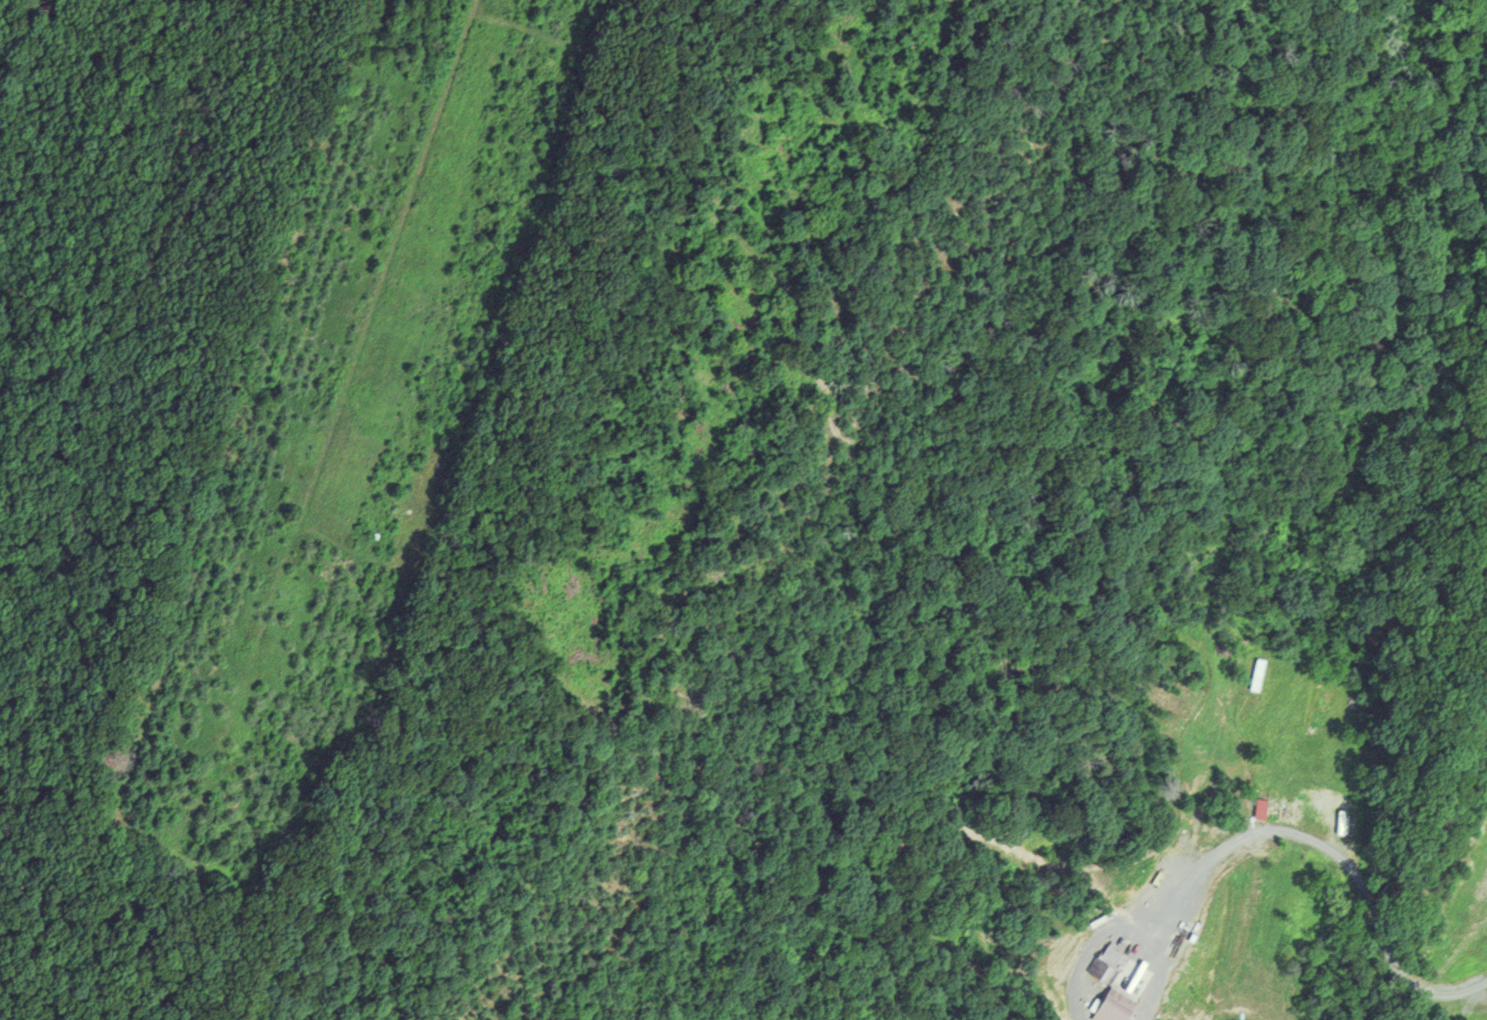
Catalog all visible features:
building: (1259, 674)
building: (1282, 813)
road: (1344, 861)
building: (1112, 963)
building: (1116, 1006)

